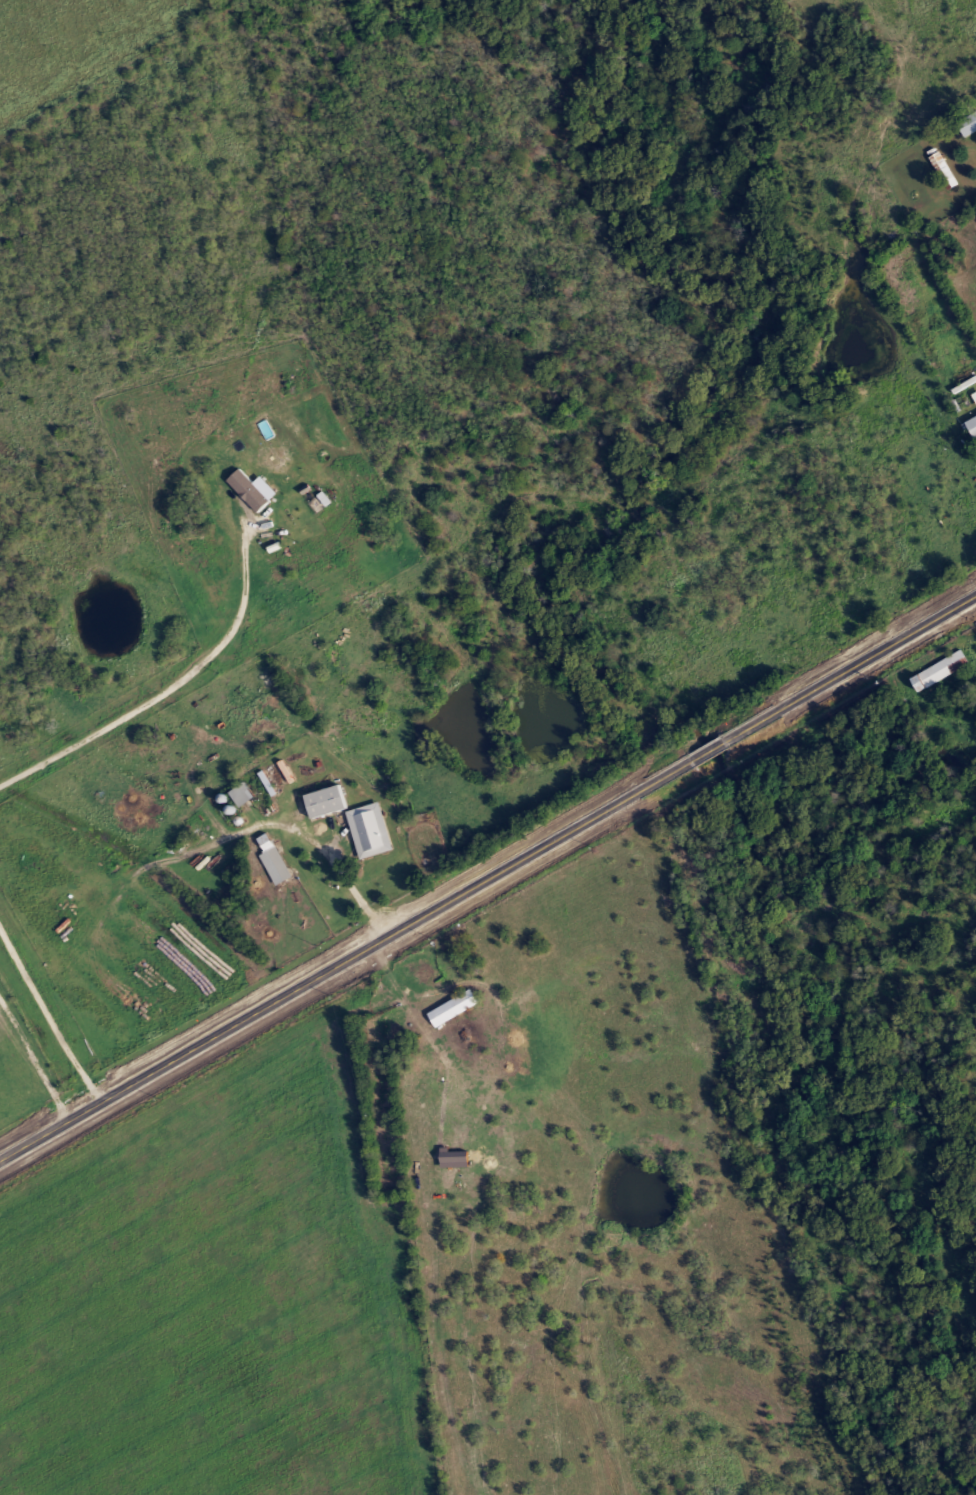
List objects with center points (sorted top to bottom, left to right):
building: (965, 124)
building: (940, 171)
building: (970, 427)
building: (251, 491)
building: (933, 670)
road: (170, 691)
building: (238, 795)
building: (322, 801)
building: (365, 830)
road: (311, 835)
building: (270, 860)
road: (487, 874)
building: (449, 1008)
road: (49, 1012)

